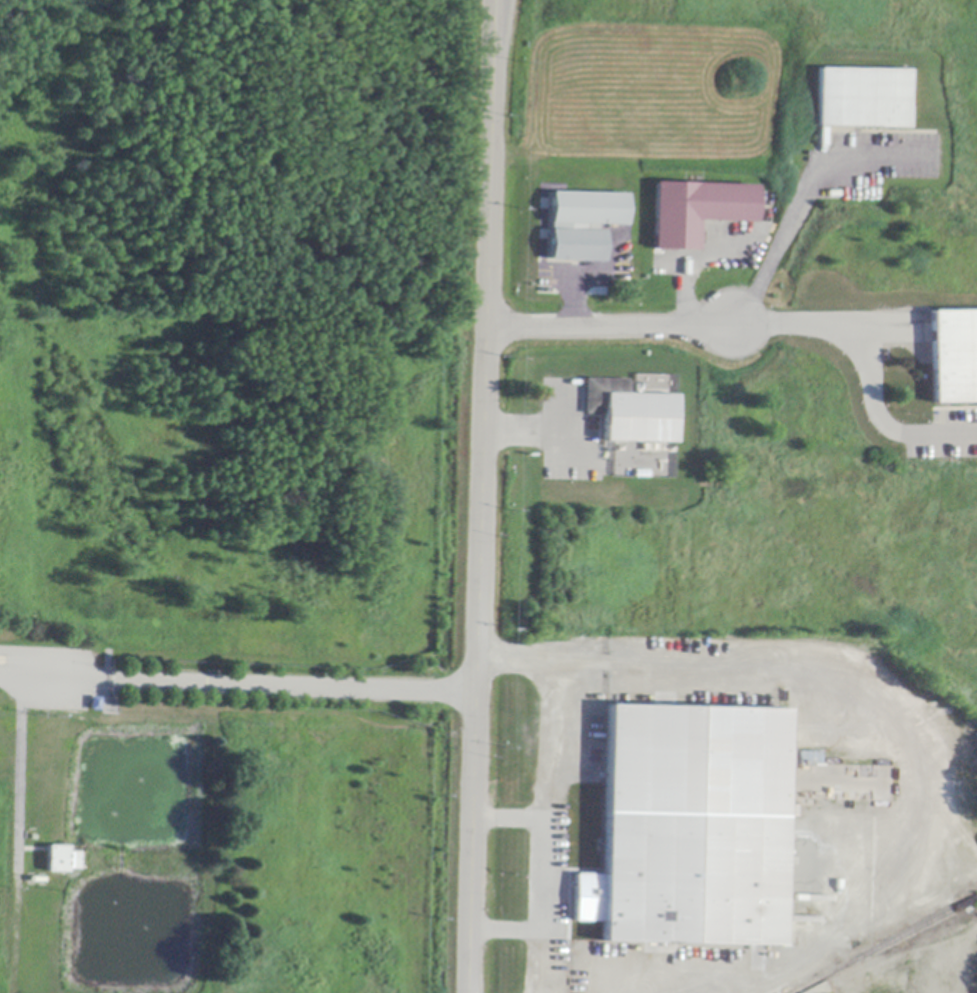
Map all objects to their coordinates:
building: (862, 99)
road: (796, 198)
building: (696, 211)
building: (581, 224)
road: (693, 259)
road: (586, 277)
road: (609, 326)
building: (953, 357)
road: (865, 364)
building: (630, 413)
road: (542, 431)
road: (482, 496)
road: (238, 689)
building: (95, 704)
road: (902, 738)
road: (552, 749)
building: (690, 828)
building: (61, 860)
road: (546, 914)
railway: (885, 946)
road: (544, 963)

